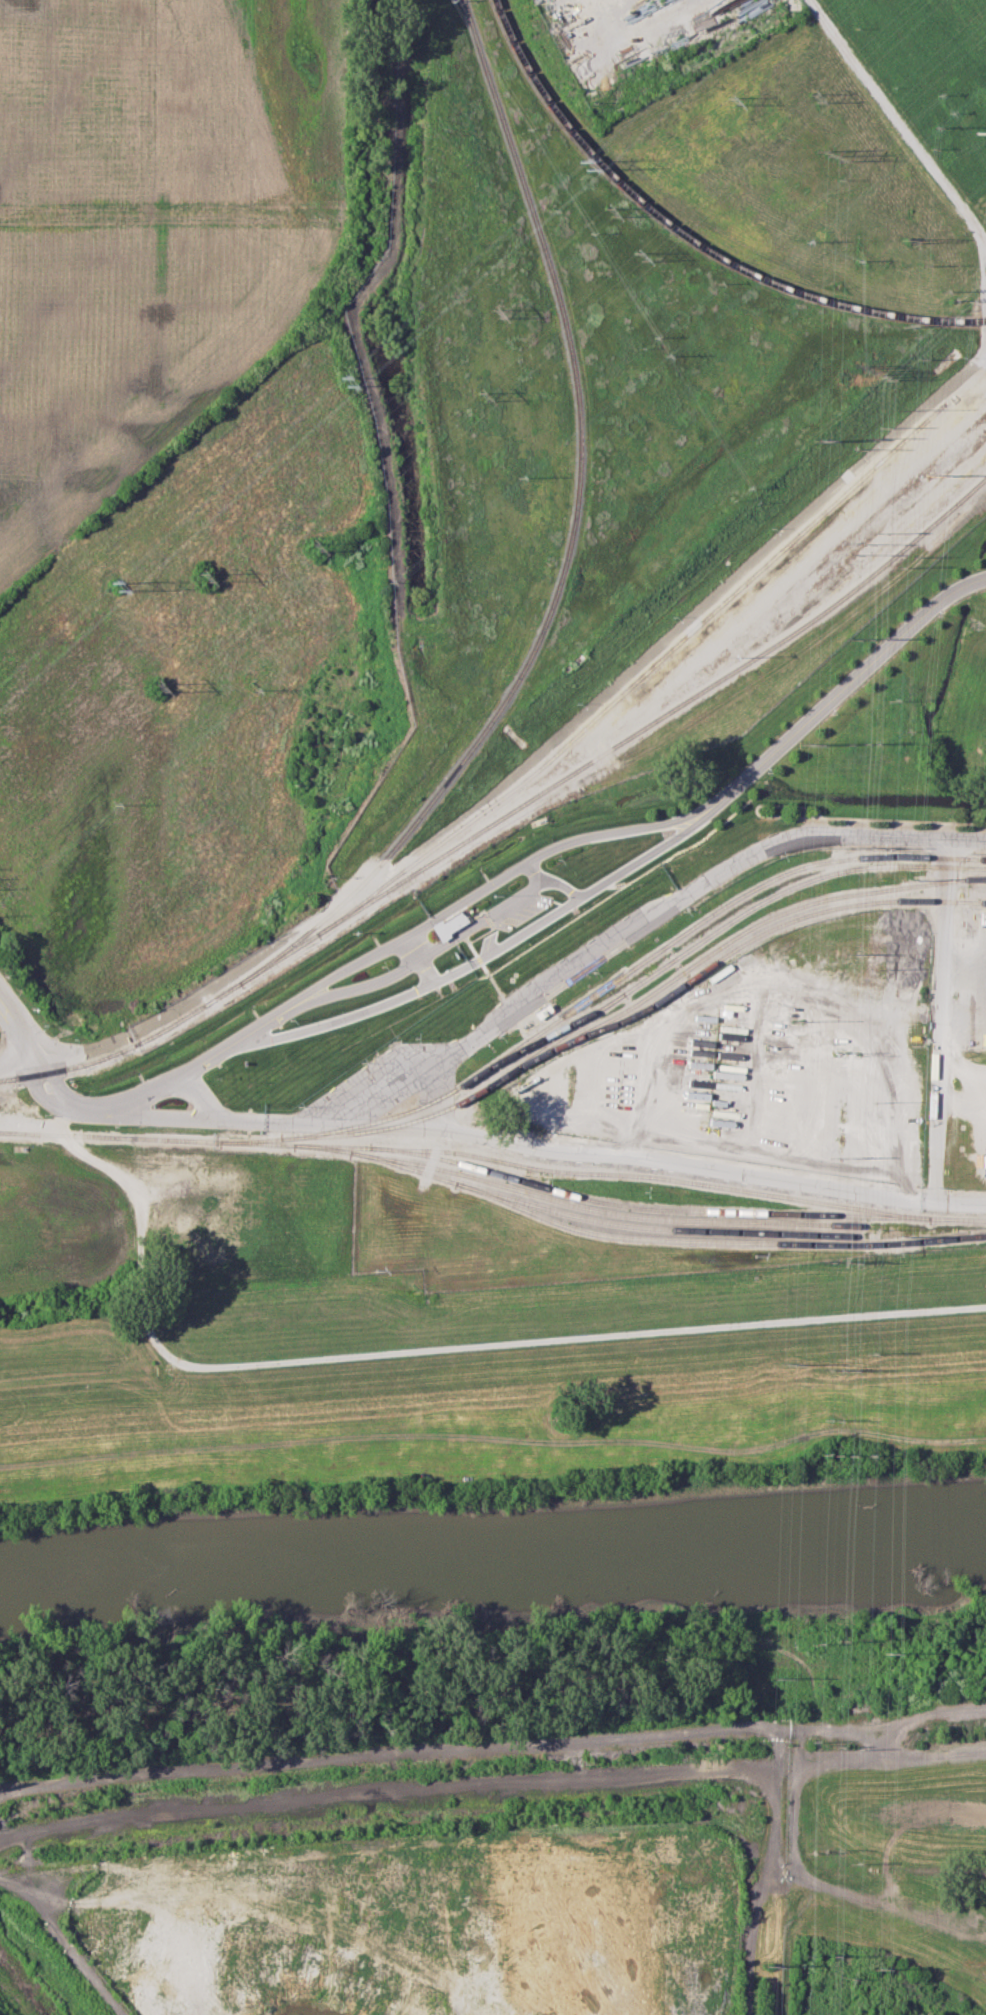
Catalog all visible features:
power tower: (810, 94)
power tower: (729, 102)
road: (896, 123)
power tower: (975, 125)
power tower: (824, 147)
power tower: (584, 166)
power tower: (605, 210)
railway: (689, 237)
power tower: (634, 252)
road: (981, 270)
power tower: (492, 311)
road: (984, 322)
power tower: (343, 382)
power tower: (479, 395)
power tower: (817, 438)
power tower: (926, 472)
crop: (184, 480)
power tower: (312, 541)
railway: (569, 547)
power tower: (201, 578)
power tower: (115, 588)
railway: (642, 675)
power tower: (155, 684)
road: (818, 707)
power tower: (805, 742)
railway: (618, 743)
road: (526, 762)
power tower: (903, 879)
road: (462, 900)
railway: (715, 913)
building: (448, 924)
road: (472, 924)
road: (942, 961)
railway: (635, 988)
road: (511, 1010)
power tower: (796, 1020)
road: (19, 1032)
railway: (122, 1050)
road: (203, 1056)
road: (980, 1071)
road: (973, 1092)
road: (650, 1102)
railway: (247, 1142)
road: (651, 1157)
railway: (653, 1178)
railway: (609, 1203)
railway: (580, 1208)
railway: (602, 1221)
crop: (55, 1223)
road: (140, 1229)
railway: (717, 1240)
power tower: (895, 1255)
road: (492, 1346)
power tower: (785, 1359)
river: (492, 1545)
power tower: (884, 1650)
power tower: (776, 1677)
road: (933, 1717)
road: (848, 1732)
road: (540, 1743)
road: (657, 1775)
road: (165, 1829)
crop: (899, 1867)
road: (65, 1939)
power tower: (767, 1964)

